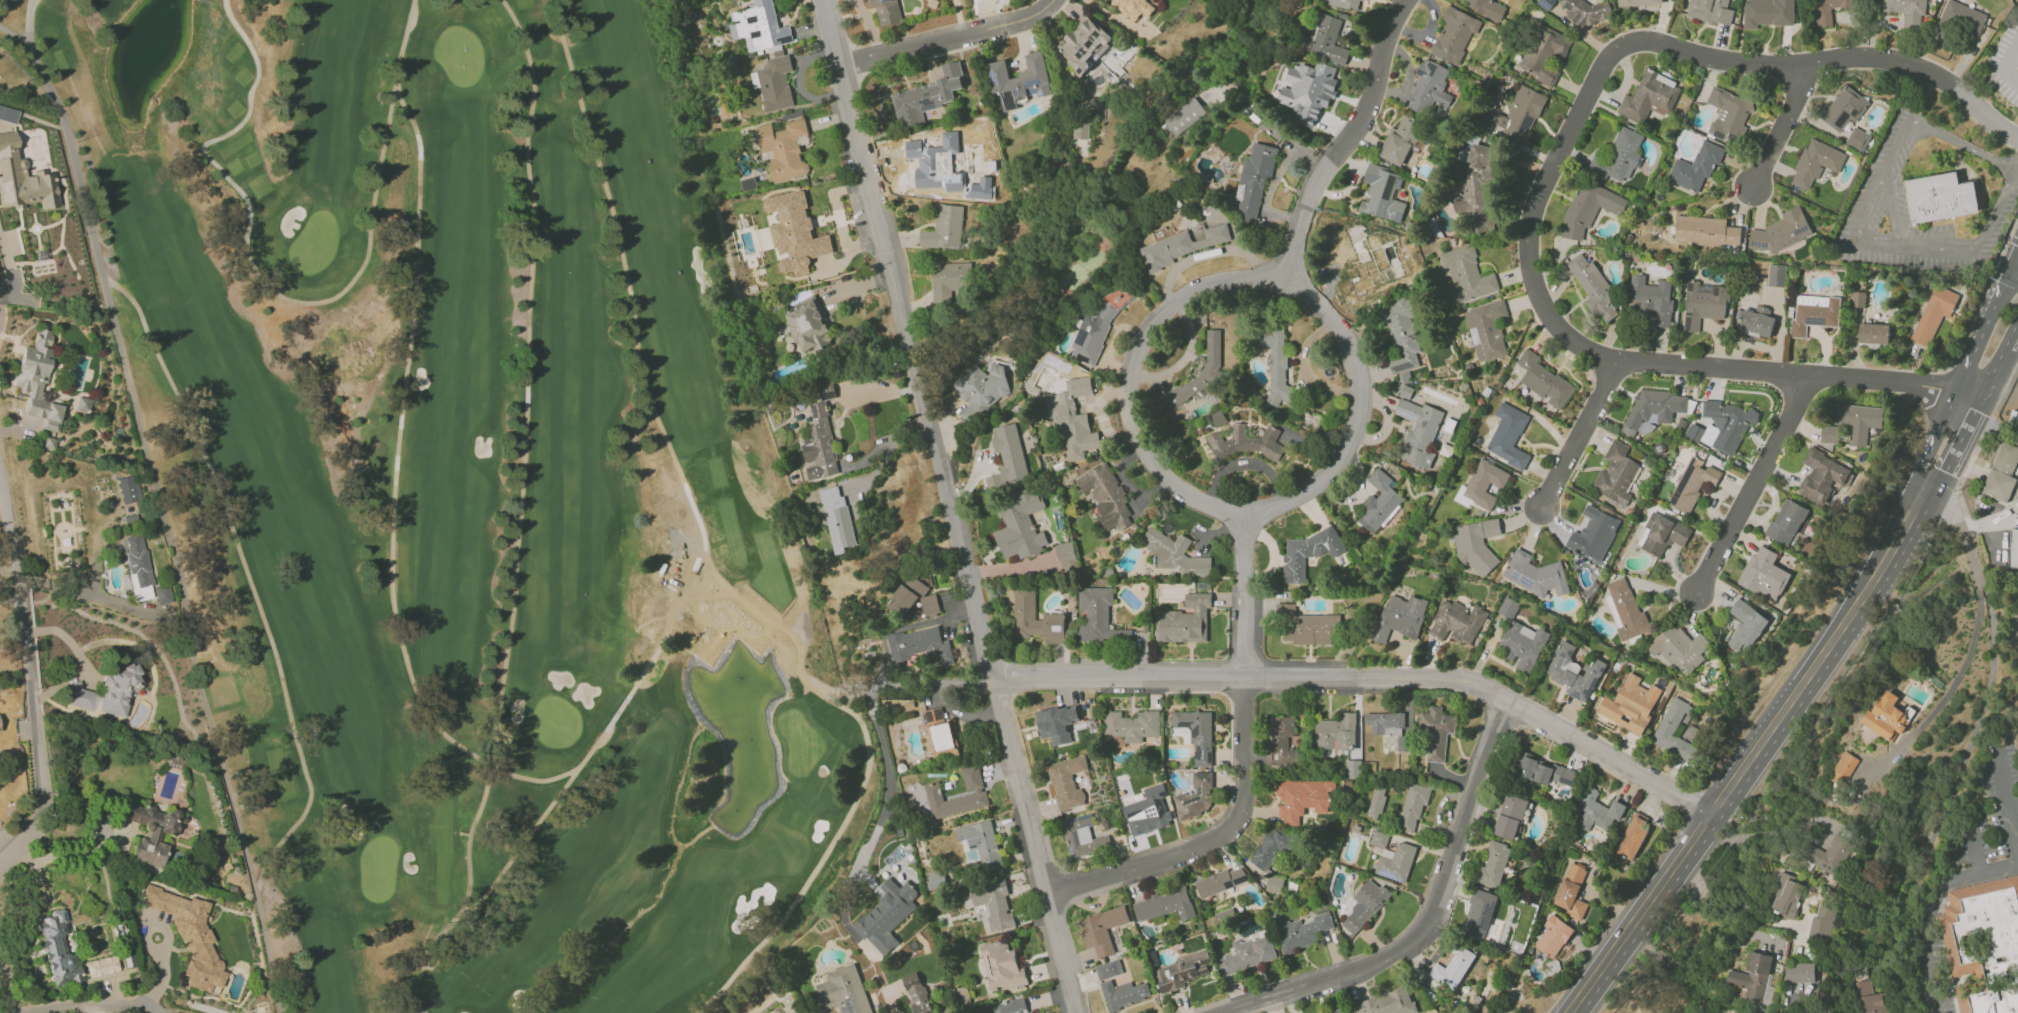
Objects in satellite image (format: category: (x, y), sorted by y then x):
building: (1367, 0)
building: (1638, 2)
building: (1345, 4)
building: (1135, 7)
building: (1487, 7)
building: (1827, 10)
building: (1907, 10)
building: (887, 11)
building: (1586, 11)
building: (1710, 11)
building: (1768, 13)
building: (1962, 17)
building: (1454, 34)
road: (951, 35)
building: (1327, 39)
building: (1083, 44)
building: (1546, 55)
building: (780, 56)
parking lot: (2005, 61)
road: (2005, 64)
building: (1019, 80)
building: (1429, 87)
building: (1308, 90)
building: (927, 96)
building: (1649, 97)
building: (1844, 108)
building: (8, 114)
building: (1729, 115)
building: (1184, 117)
building: (1080, 130)
road: (1781, 131)
road: (1348, 136)
building: (1857, 139)
building: (1401, 140)
building: (784, 148)
building: (1618, 157)
building: (937, 163)
building: (1816, 163)
building: (1695, 167)
road: (2016, 167)
building: (22, 179)
building: (1253, 183)
building: (1478, 188)
road: (1553, 193)
building: (1382, 194)
building: (1938, 198)
road: (1884, 204)
building: (1589, 208)
building: (944, 228)
road: (2013, 228)
building: (1706, 230)
road: (1856, 230)
building: (1781, 231)
building: (795, 233)
road: (2013, 240)
building: (1179, 246)
building: (1368, 259)
road: (2014, 260)
road: (2014, 270)
building: (1467, 275)
building: (1776, 275)
building: (949, 281)
building: (1594, 288)
road: (16, 296)
building: (1651, 299)
building: (1857, 299)
building: (1704, 304)
building: (1814, 313)
building: (1933, 314)
building: (1757, 321)
building: (807, 325)
building: (1097, 326)
building: (1486, 329)
road: (1983, 330)
building: (1873, 333)
building: (1402, 334)
road: (2009, 356)
road: (1999, 361)
building: (1277, 366)
road: (1129, 374)
building: (1195, 377)
building: (38, 380)
building: (1543, 380)
building: (980, 390)
building: (825, 391)
building: (1406, 391)
building: (1652, 410)
road: (1361, 412)
building: (1073, 418)
building: (1857, 420)
road: (1996, 424)
building: (1418, 432)
building: (1829, 434)
road: (1579, 435)
building: (1508, 436)
road: (1933, 438)
building: (1248, 442)
building: (49, 443)
building: (818, 445)
road: (1960, 447)
road: (888, 453)
road: (872, 454)
building: (1008, 457)
building: (1616, 474)
building: (2001, 474)
building: (1821, 476)
building: (1484, 483)
building: (1692, 483)
road: (1755, 485)
building: (129, 489)
building: (1106, 496)
park: (451, 497)
building: (1378, 502)
building: (837, 519)
building: (1787, 521)
road: (1991, 523)
building: (1020, 524)
road: (1960, 529)
building: (1661, 533)
building: (1594, 535)
building: (1476, 543)
building: (2013, 549)
building: (1308, 552)
building: (1175, 553)
building: (1067, 556)
building: (137, 566)
building: (1535, 574)
building: (1764, 574)
road: (77, 592)
building: (162, 594)
road: (9, 598)
building: (912, 601)
building: (1624, 609)
building: (1053, 616)
building: (1098, 617)
building: (1399, 617)
building: (1185, 621)
building: (1457, 622)
building: (1745, 625)
building: (1306, 626)
road: (68, 641)
building: (919, 645)
building: (1523, 646)
building: (1679, 648)
building: (1575, 672)
road: (1021, 677)
road: (30, 678)
road: (934, 682)
road: (1953, 687)
road: (53, 688)
building: (118, 689)
building: (79, 696)
road: (871, 703)
building: (1630, 704)
building: (1890, 716)
building: (1057, 723)
building: (1130, 726)
building: (1388, 726)
building: (1677, 731)
building: (1436, 732)
building: (1335, 733)
building: (1197, 734)
building: (939, 735)
building: (1281, 740)
road: (1755, 755)
building: (175, 762)
road: (1960, 764)
building: (1353, 768)
building: (1844, 769)
road: (1241, 770)
building: (1542, 773)
building: (1067, 782)
building: (975, 790)
building: (1196, 797)
building: (1302, 798)
road: (2008, 798)
building: (1376, 803)
building: (1412, 807)
building: (1148, 811)
building: (1598, 811)
building: (1510, 817)
building: (150, 830)
road: (1759, 831)
building: (1083, 836)
building: (1634, 836)
building: (1379, 838)
building: (981, 842)
road: (1035, 845)
building: (1270, 849)
road: (1975, 850)
building: (1832, 855)
road: (59, 857)
building: (1396, 863)
building: (1494, 864)
building: (937, 878)
building: (1220, 881)
building: (1274, 884)
building: (1571, 891)
building: (1787, 895)
building: (990, 904)
building: (1164, 905)
building: (1364, 905)
road: (1931, 910)
building: (1479, 914)
building: (886, 915)
building: (1224, 915)
road: (1425, 917)
building: (1822, 924)
building: (1103, 928)
building: (1305, 930)
building: (189, 935)
building: (1552, 937)
building: (2003, 942)
building: (58, 950)
building: (1248, 954)
building: (1002, 965)
building: (101, 966)
building: (1457, 967)
building: (1108, 969)
building: (1180, 971)
building: (1799, 972)
building: (1754, 978)
road: (6, 991)
building: (843, 991)
building: (917, 993)
building: (1124, 993)
building: (1869, 998)
building: (1388, 1003)
road: (80, 1005)
building: (1013, 1005)
building: (1340, 1010)
building: (1031, 1012)

